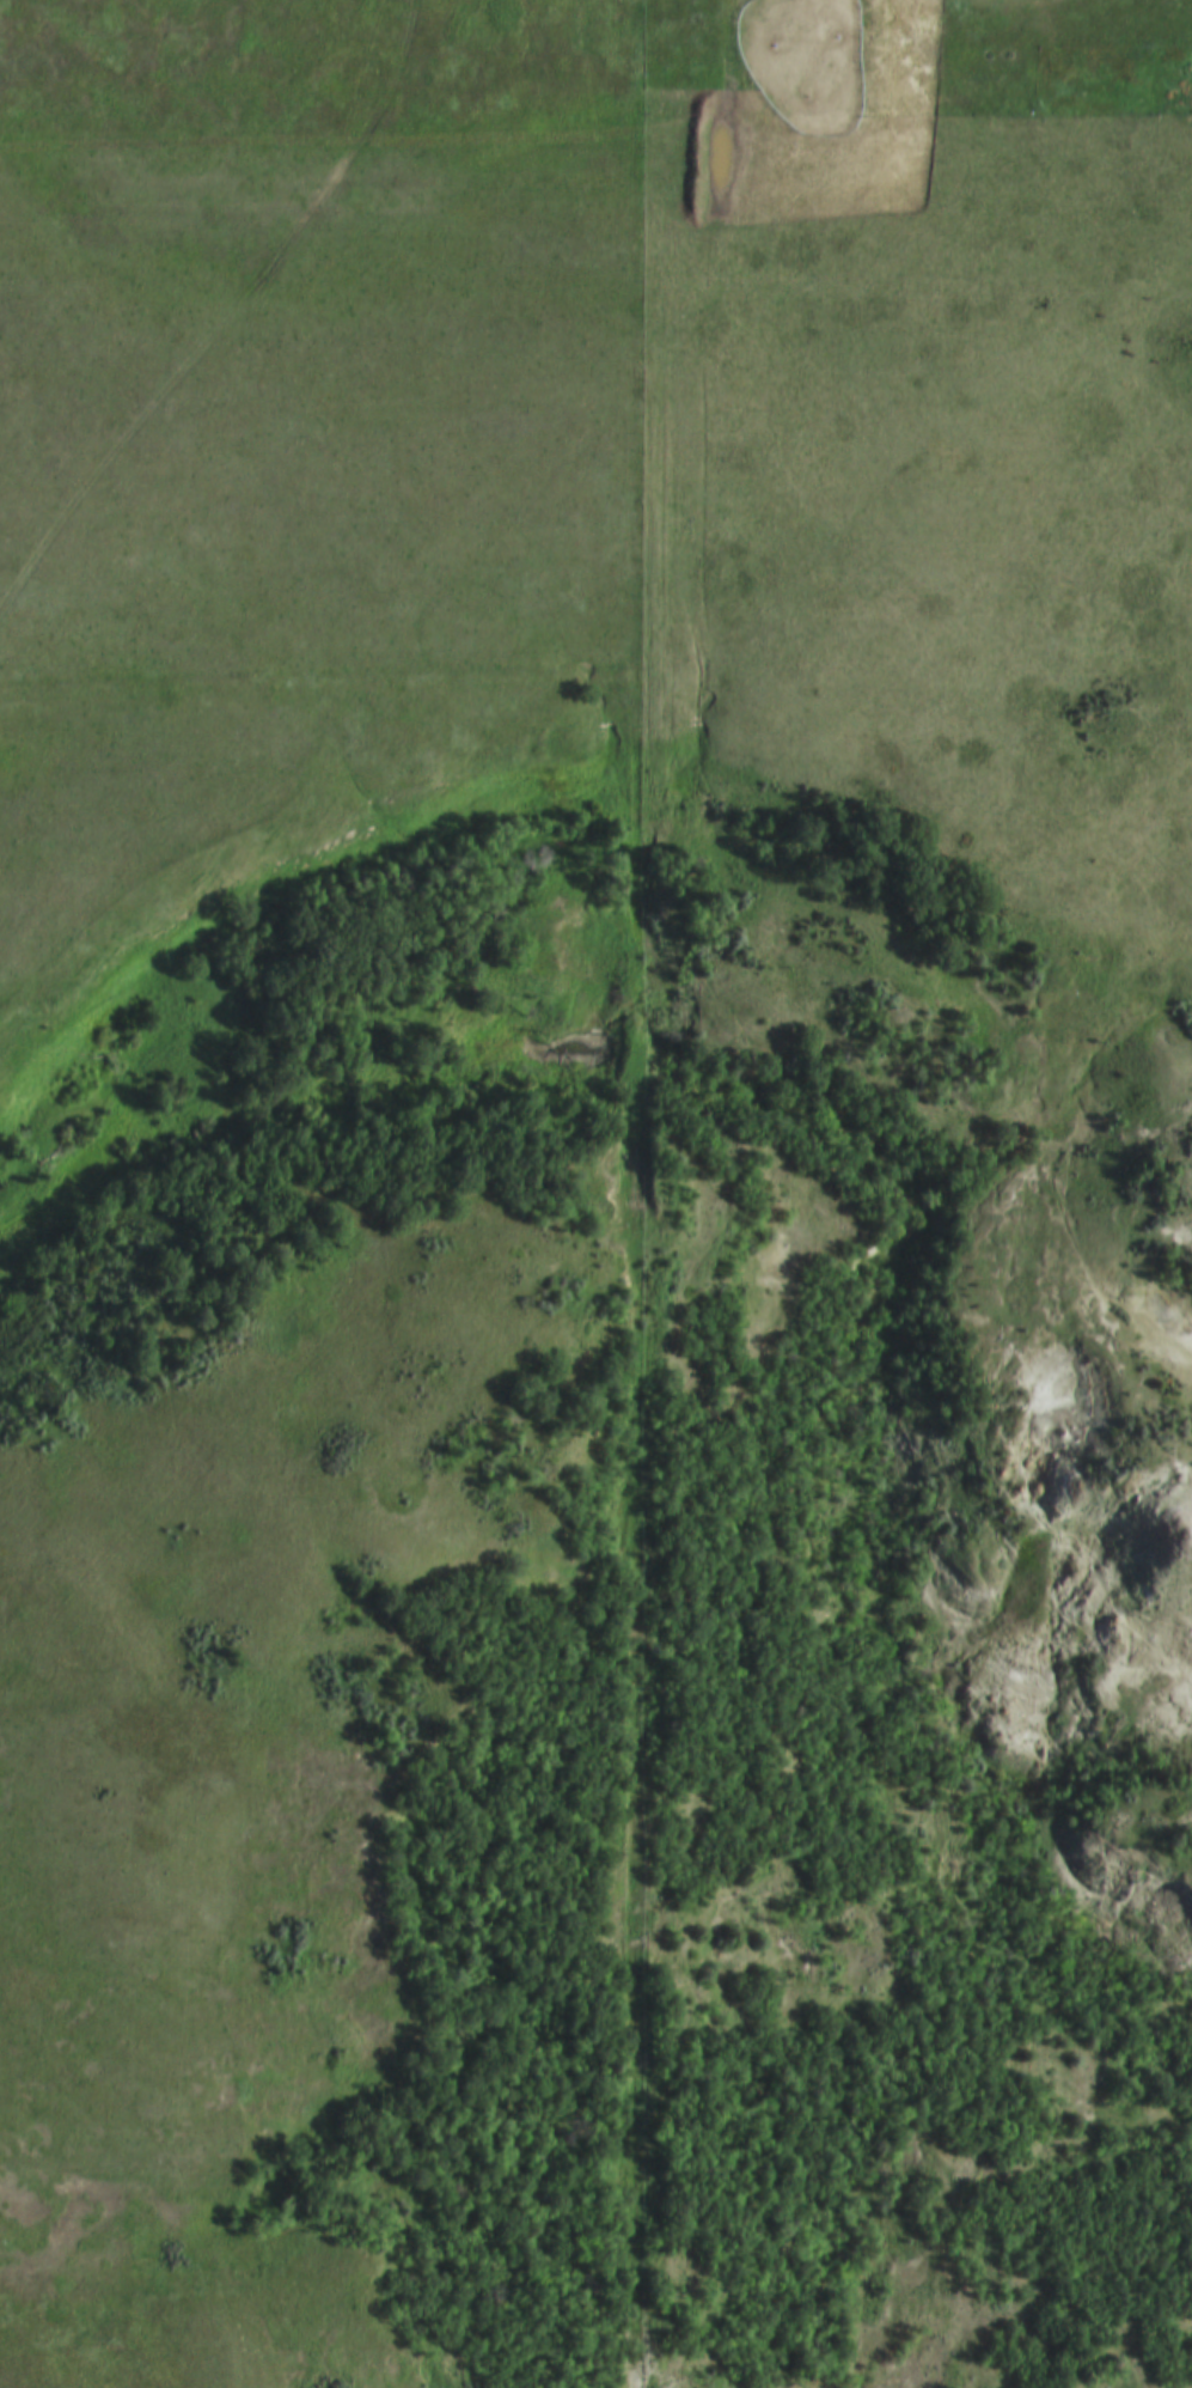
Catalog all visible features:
road: (1056, 12)
road: (232, 319)
road: (644, 1184)

